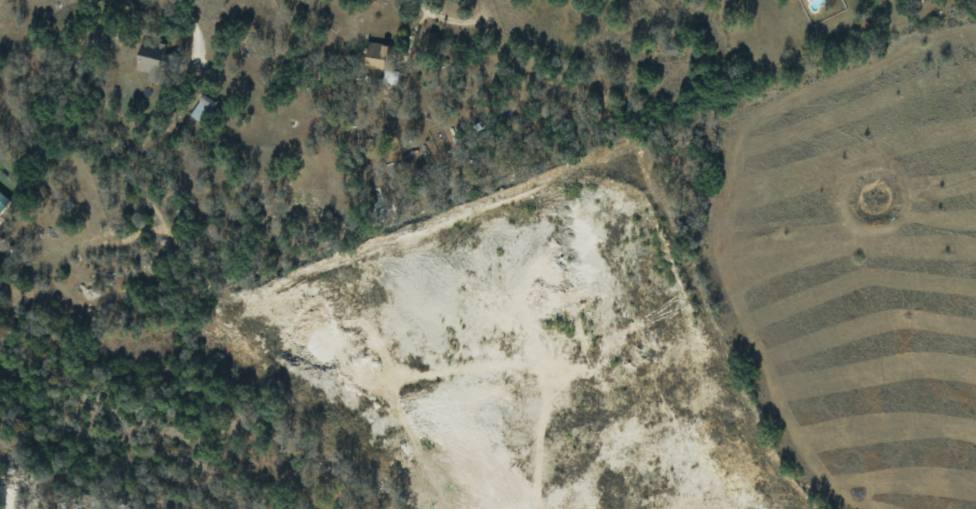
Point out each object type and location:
road: (435, 13)
road: (192, 22)
building: (376, 55)
building: (153, 59)
building: (202, 108)
building: (3, 201)
quarry: (422, 379)

